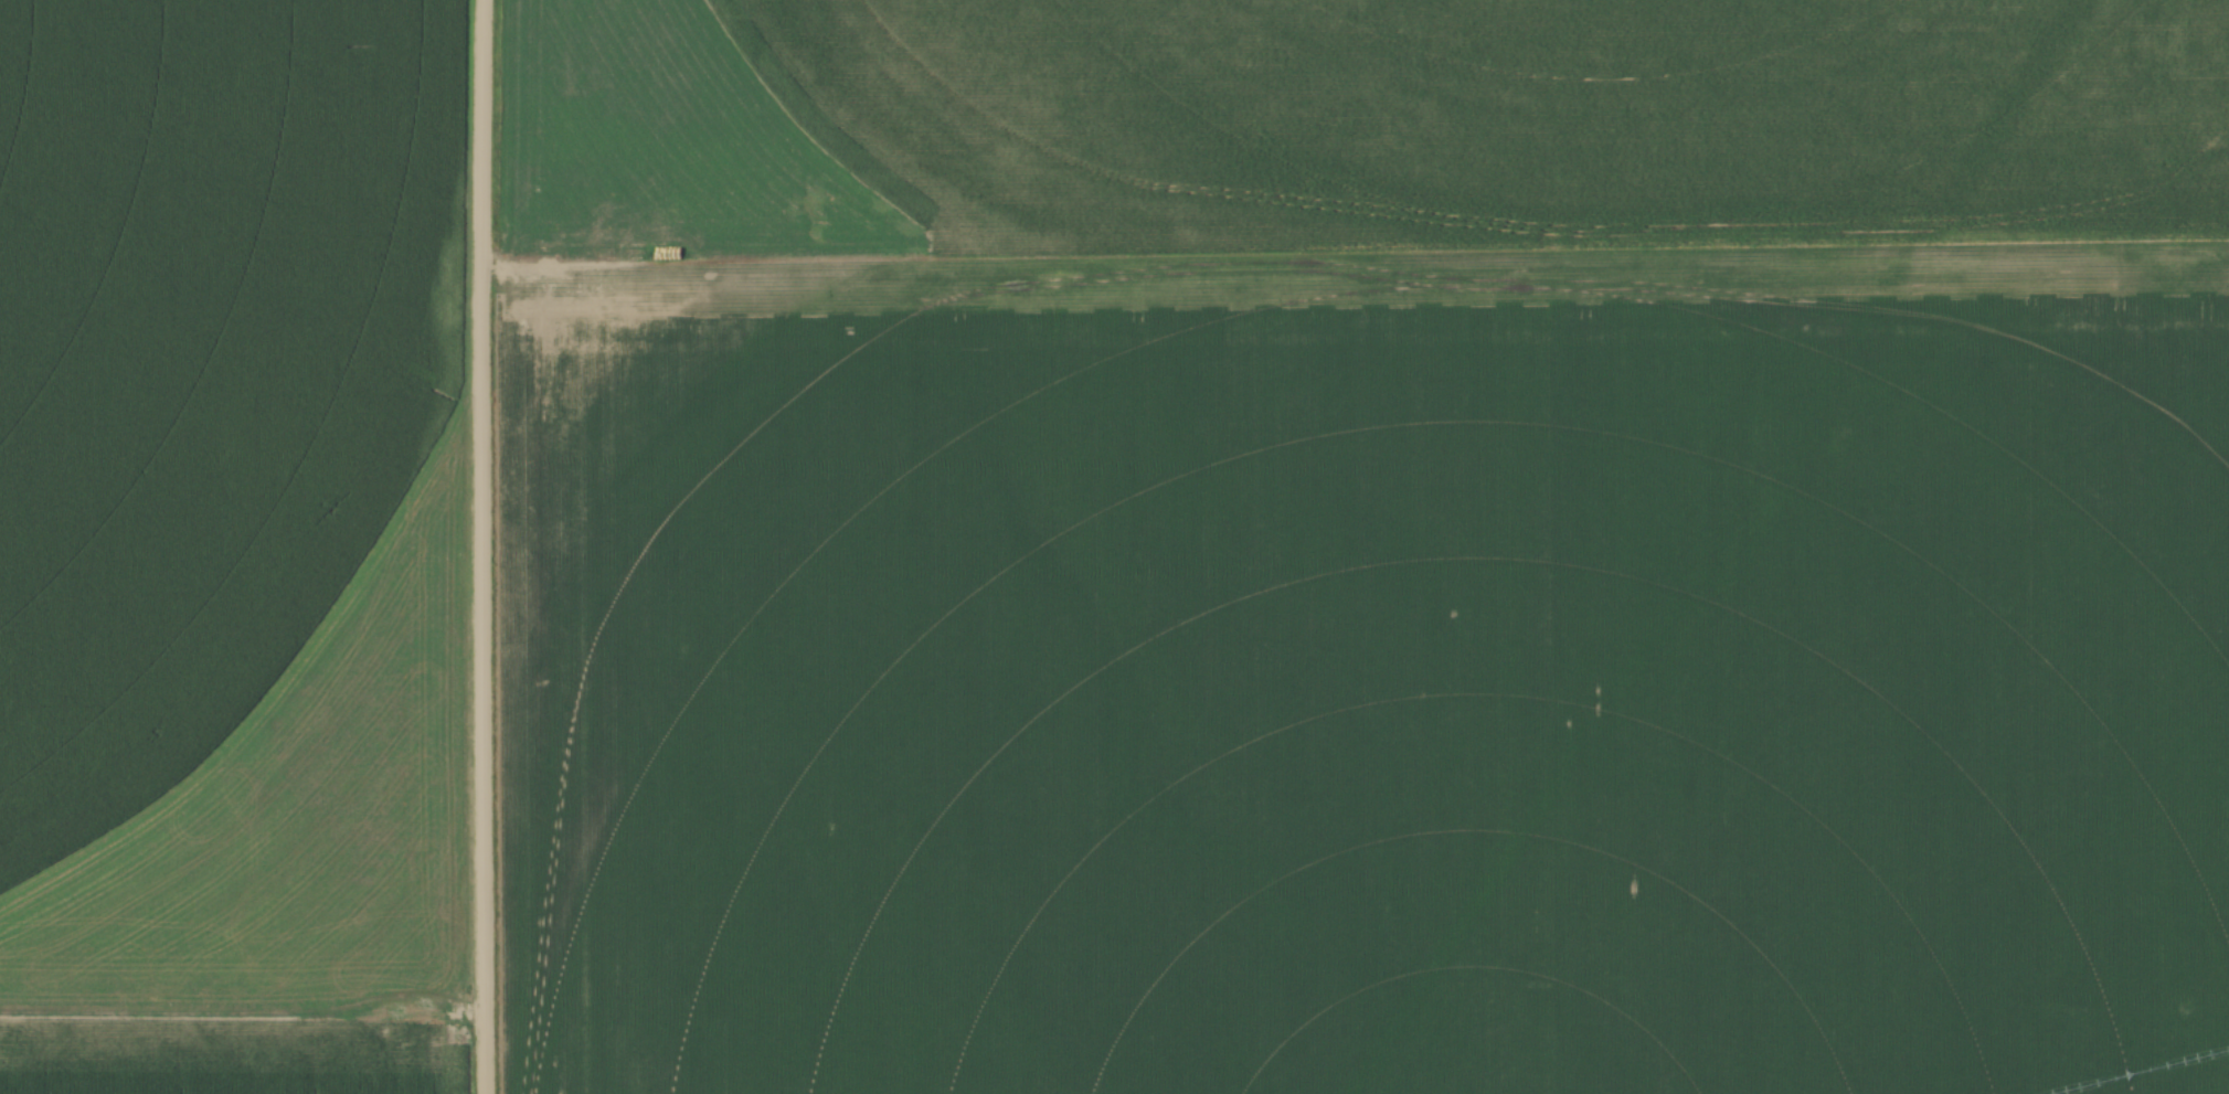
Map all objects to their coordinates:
road: (477, 546)

